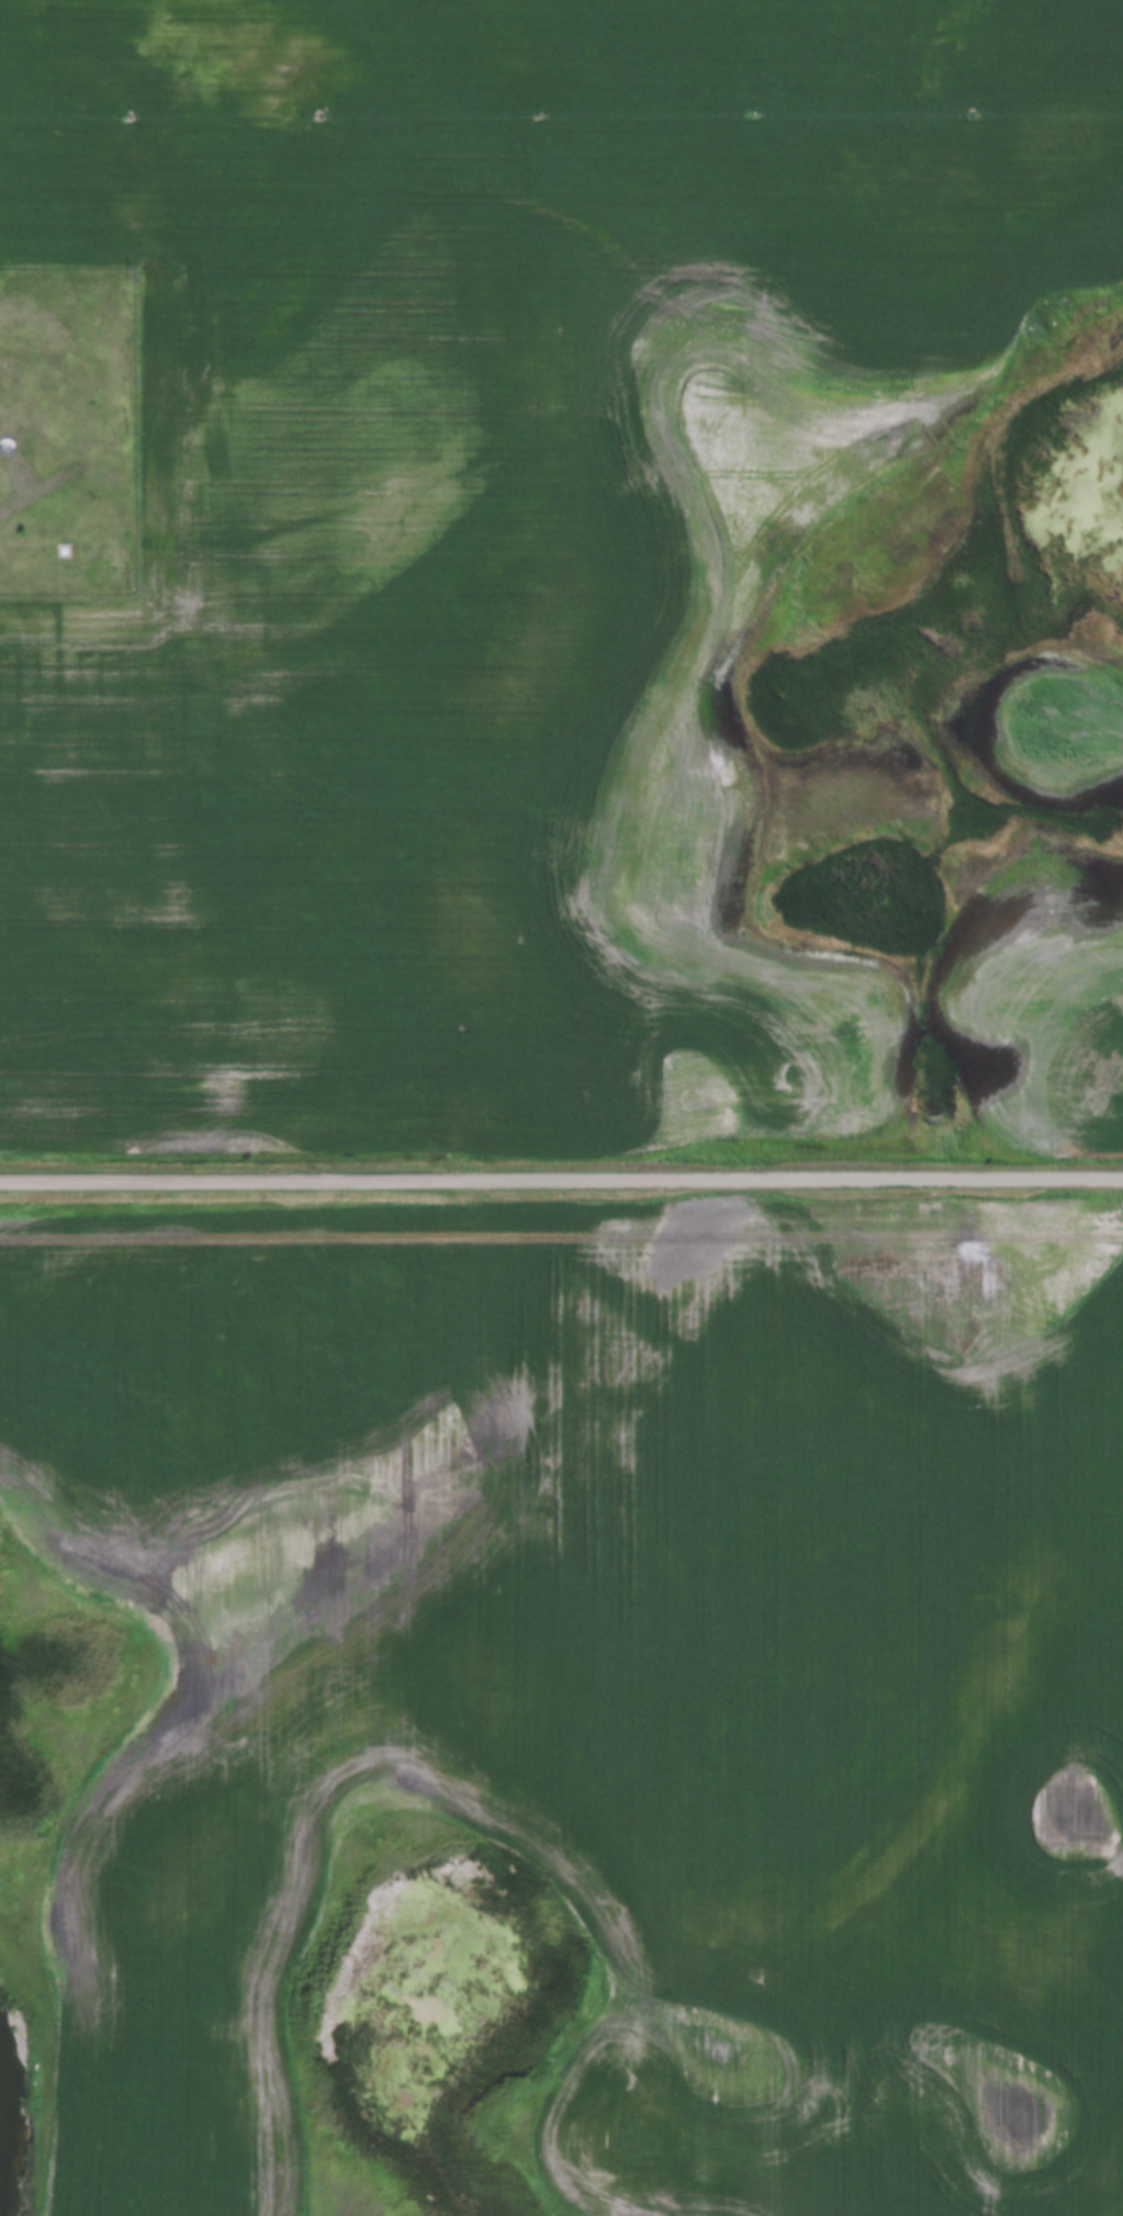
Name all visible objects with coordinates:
road: (561, 1178)

